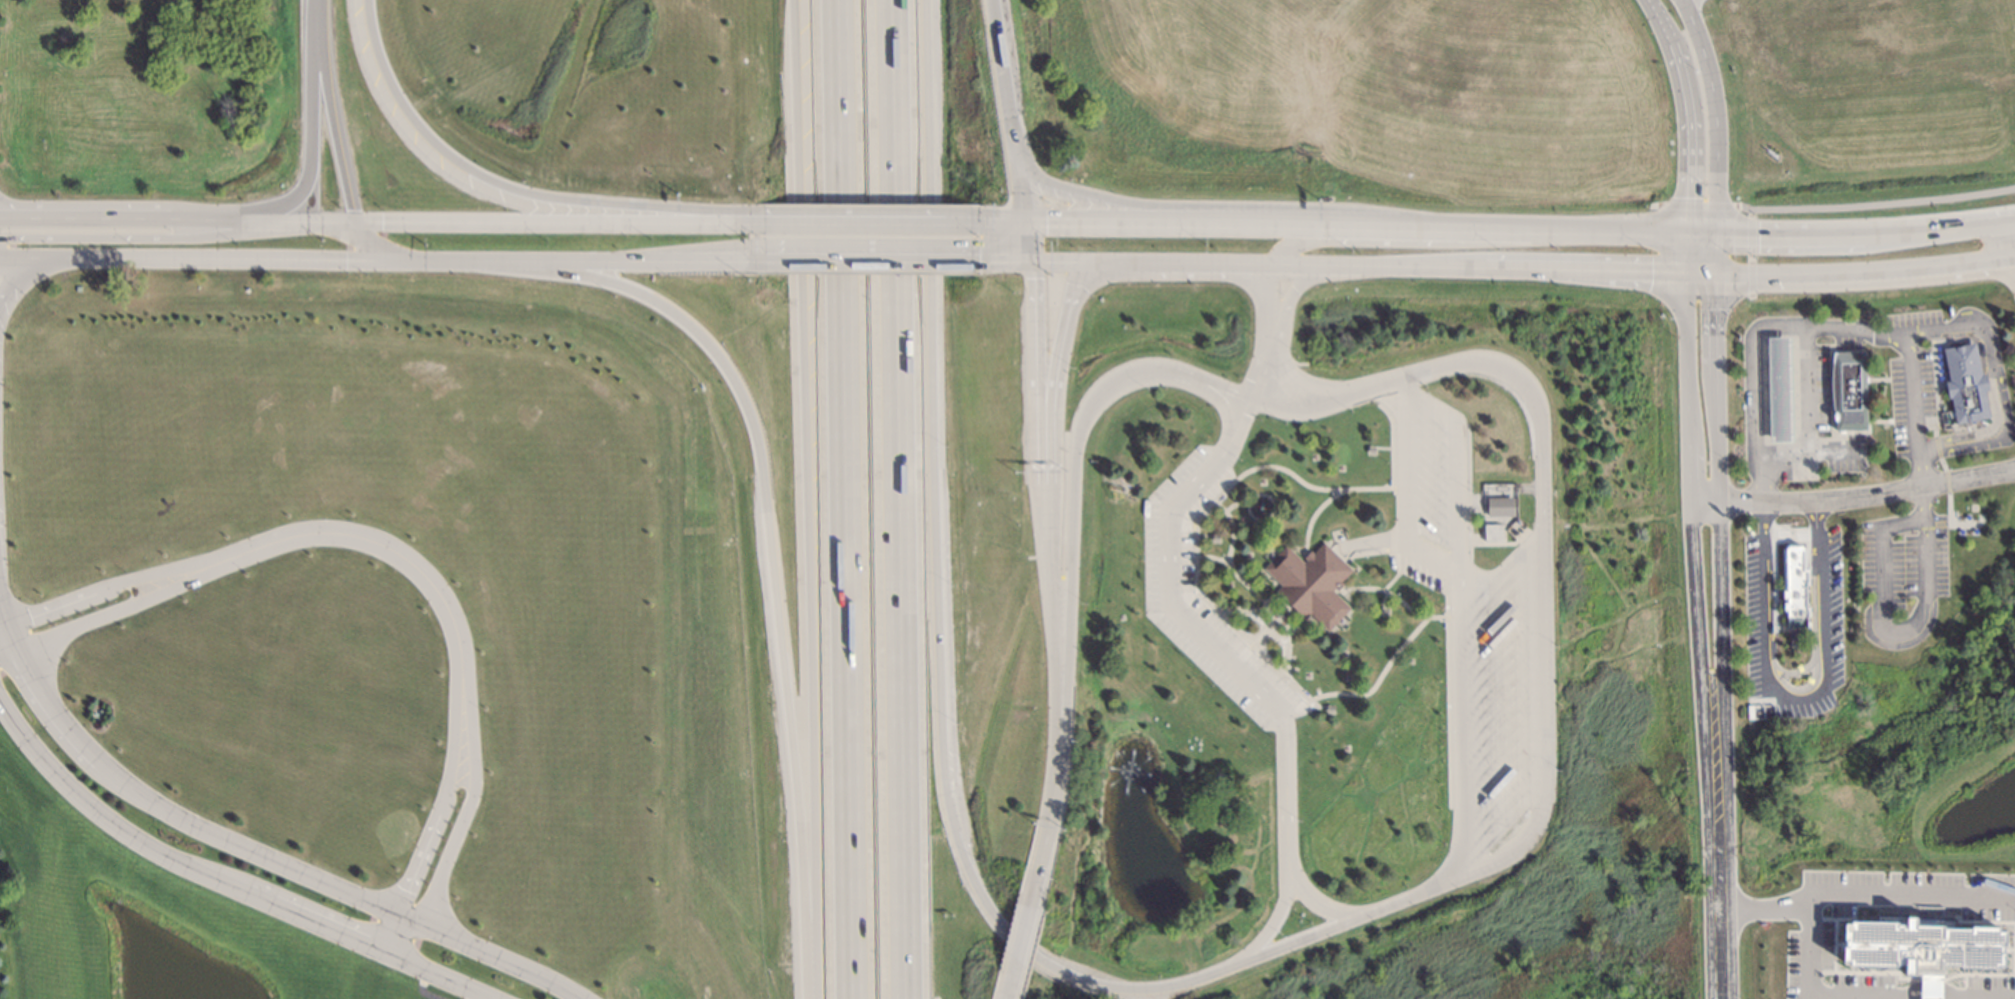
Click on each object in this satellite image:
road: (1006, 111)
road: (331, 112)
road: (1685, 113)
road: (1713, 115)
road: (311, 121)
road: (506, 188)
road: (1875, 203)
road: (1208, 207)
road: (178, 221)
road: (872, 221)
road: (1009, 222)
traffic signals: (358, 223)
road: (556, 223)
traffic signals: (1027, 223)
road: (1356, 228)
road: (1939, 230)
traffic signals: (1685, 236)
road: (1699, 236)
traffic signals: (1713, 236)
road: (1788, 236)
road: (133, 240)
road: (1298, 241)
road: (1030, 243)
road: (371, 244)
road: (195, 257)
traffic signals: (391, 259)
road: (571, 261)
road: (872, 261)
road: (1012, 262)
traffic signals: (1033, 263)
traffic signals: (1079, 263)
road: (27, 267)
road: (1524, 271)
traffic signals: (1684, 273)
traffic signals: (1713, 273)
road: (1262, 332)
road: (1962, 338)
parking lot: (1844, 341)
road: (1758, 342)
parking lot: (1992, 350)
parking lot: (1978, 354)
road: (1276, 355)
parking lot: (1907, 377)
road: (1036, 378)
road: (1875, 378)
building: (1963, 382)
road: (1995, 385)
parking lot: (1819, 386)
road: (1937, 386)
road: (1831, 387)
road: (1931, 387)
road: (1374, 388)
building: (1777, 388)
gas station: (1777, 388)
building: (1848, 390)
road: (1218, 404)
road: (1915, 408)
road: (1300, 411)
road: (1803, 414)
road: (1830, 422)
road: (1238, 425)
road: (1050, 428)
road: (1984, 429)
road: (1935, 445)
building: (1369, 448)
road: (1783, 450)
road: (1456, 463)
parking lot: (1842, 463)
road: (1940, 463)
flagpole: (1112, 465)
flagpole: (1130, 466)
flagpole: (1148, 466)
road: (1071, 471)
road: (1944, 480)
road: (1402, 492)
road: (1922, 496)
road: (1852, 497)
road: (804, 499)
road: (840, 499)
road: (889, 499)
road: (1946, 499)
building: (1499, 508)
park: (1962, 520)
building: (1490, 530)
road: (767, 536)
building: (1214, 539)
road: (384, 549)
parking lot: (1902, 556)
parking lot: (1166, 560)
road: (1692, 574)
road: (1719, 574)
road: (110, 585)
building: (1310, 585)
building: (1793, 586)
parking lot: (1755, 603)
road: (1046, 604)
road: (113, 609)
parking lot: (1830, 611)
building: (1382, 613)
parking lot: (1469, 622)
road: (1884, 631)
road: (1544, 636)
road: (1221, 653)
road: (937, 667)
road: (1783, 672)
road: (1800, 686)
road: (1795, 698)
building: (1328, 711)
road: (1462, 728)
road: (1051, 815)
road: (434, 822)
road: (457, 829)
road: (250, 853)
road: (228, 886)
road: (1911, 887)
road: (1320, 906)
road: (1811, 921)
road: (1270, 925)
road: (1023, 942)
building: (1921, 949)
road: (1718, 955)
road: (1012, 984)
road: (1937, 995)

